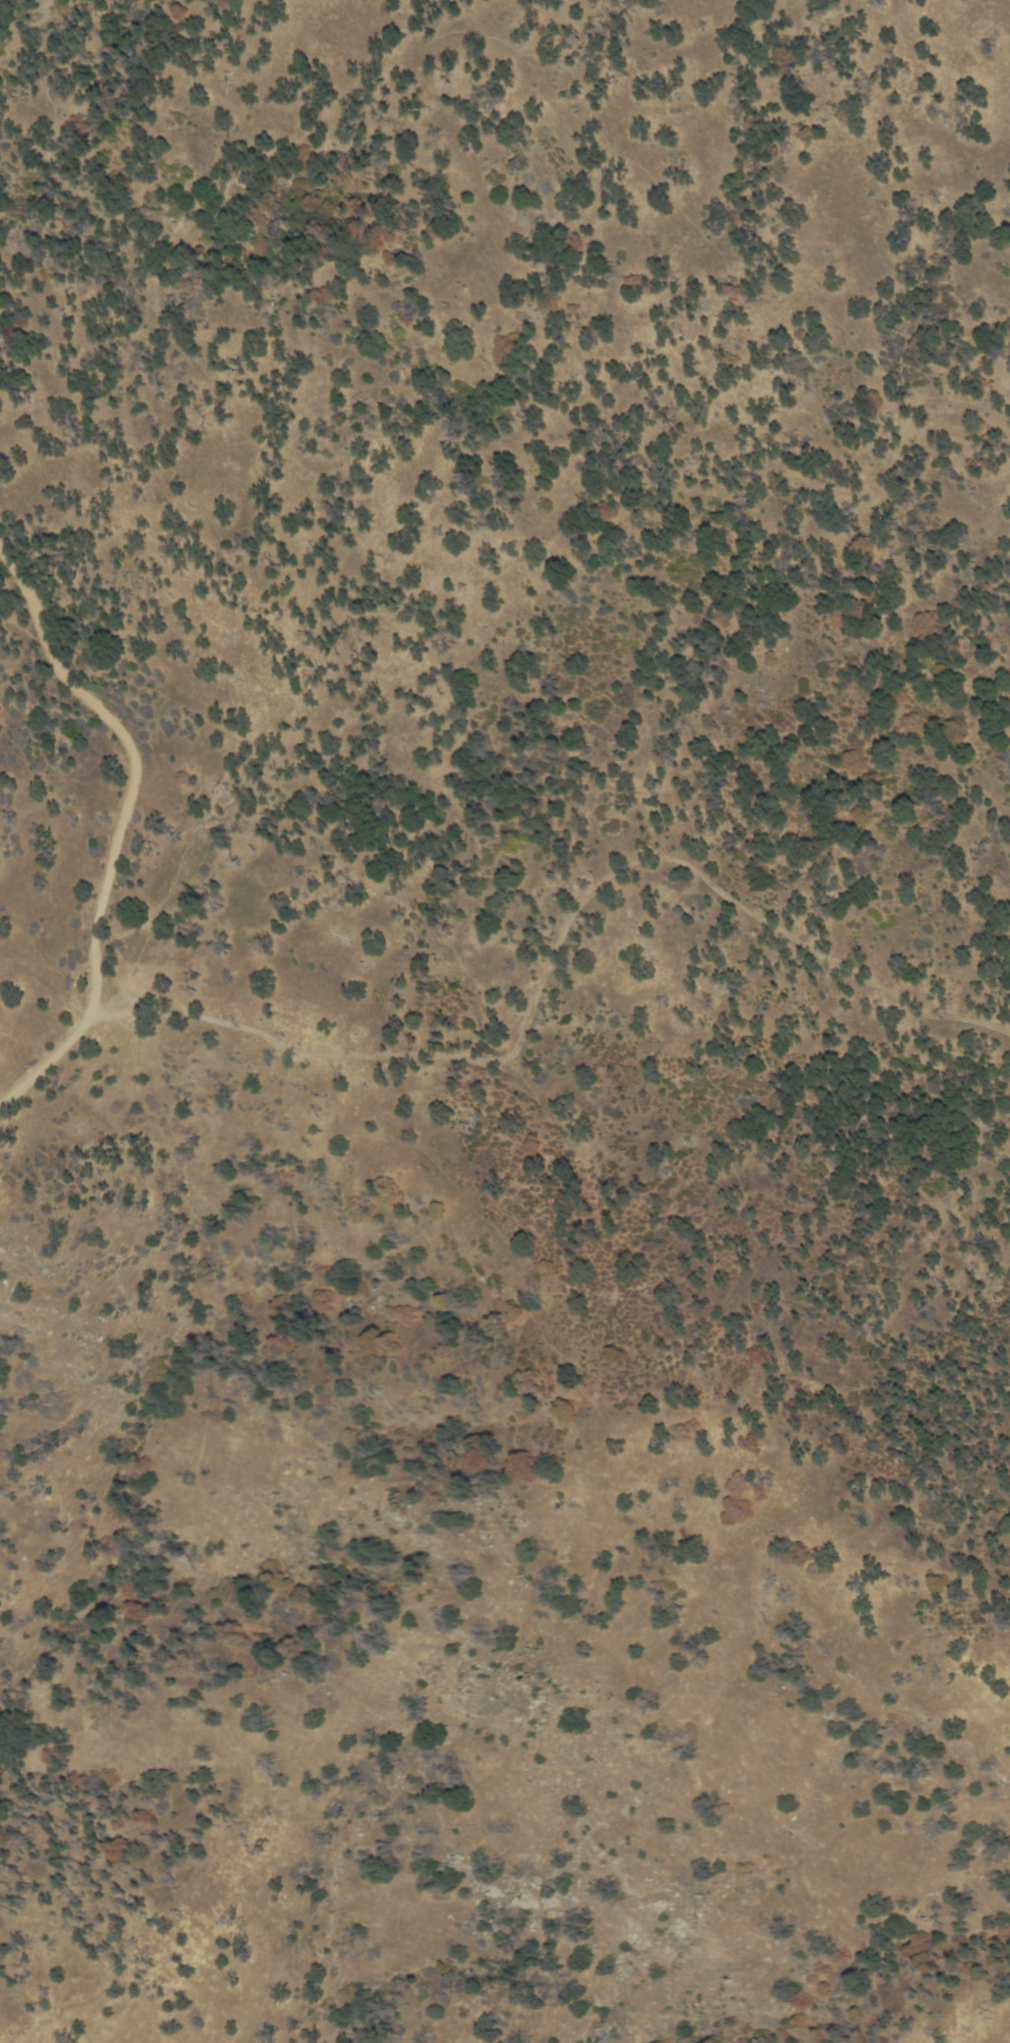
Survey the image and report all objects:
road: (122, 825)

